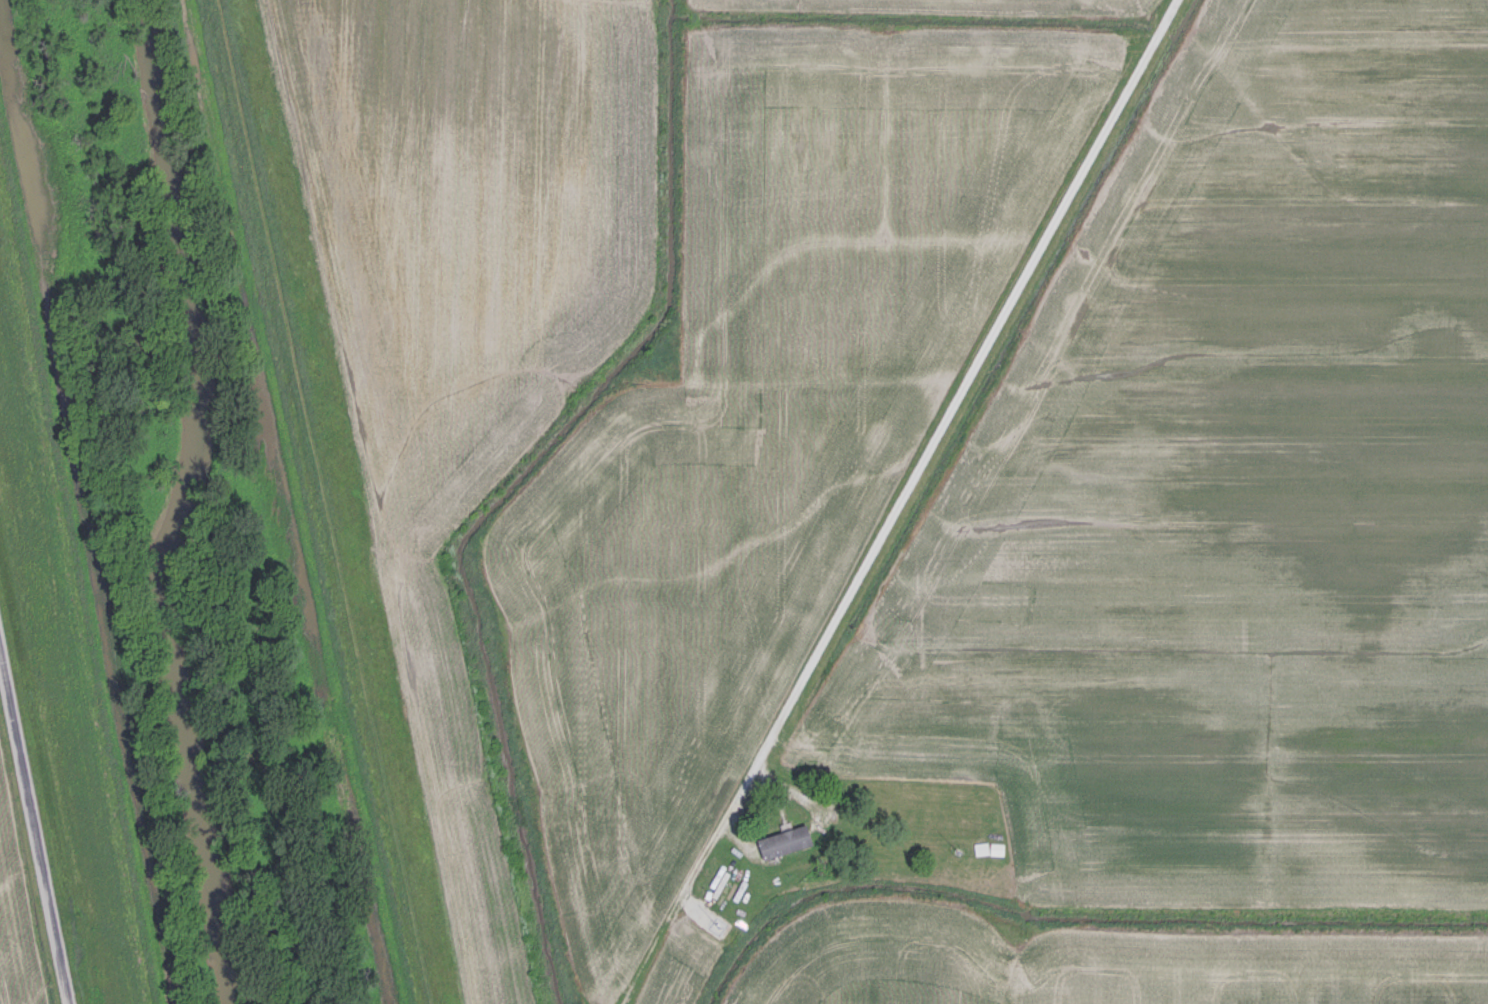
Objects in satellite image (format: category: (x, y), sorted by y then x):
road: (863, 476)
building: (794, 841)
road: (5, 971)

